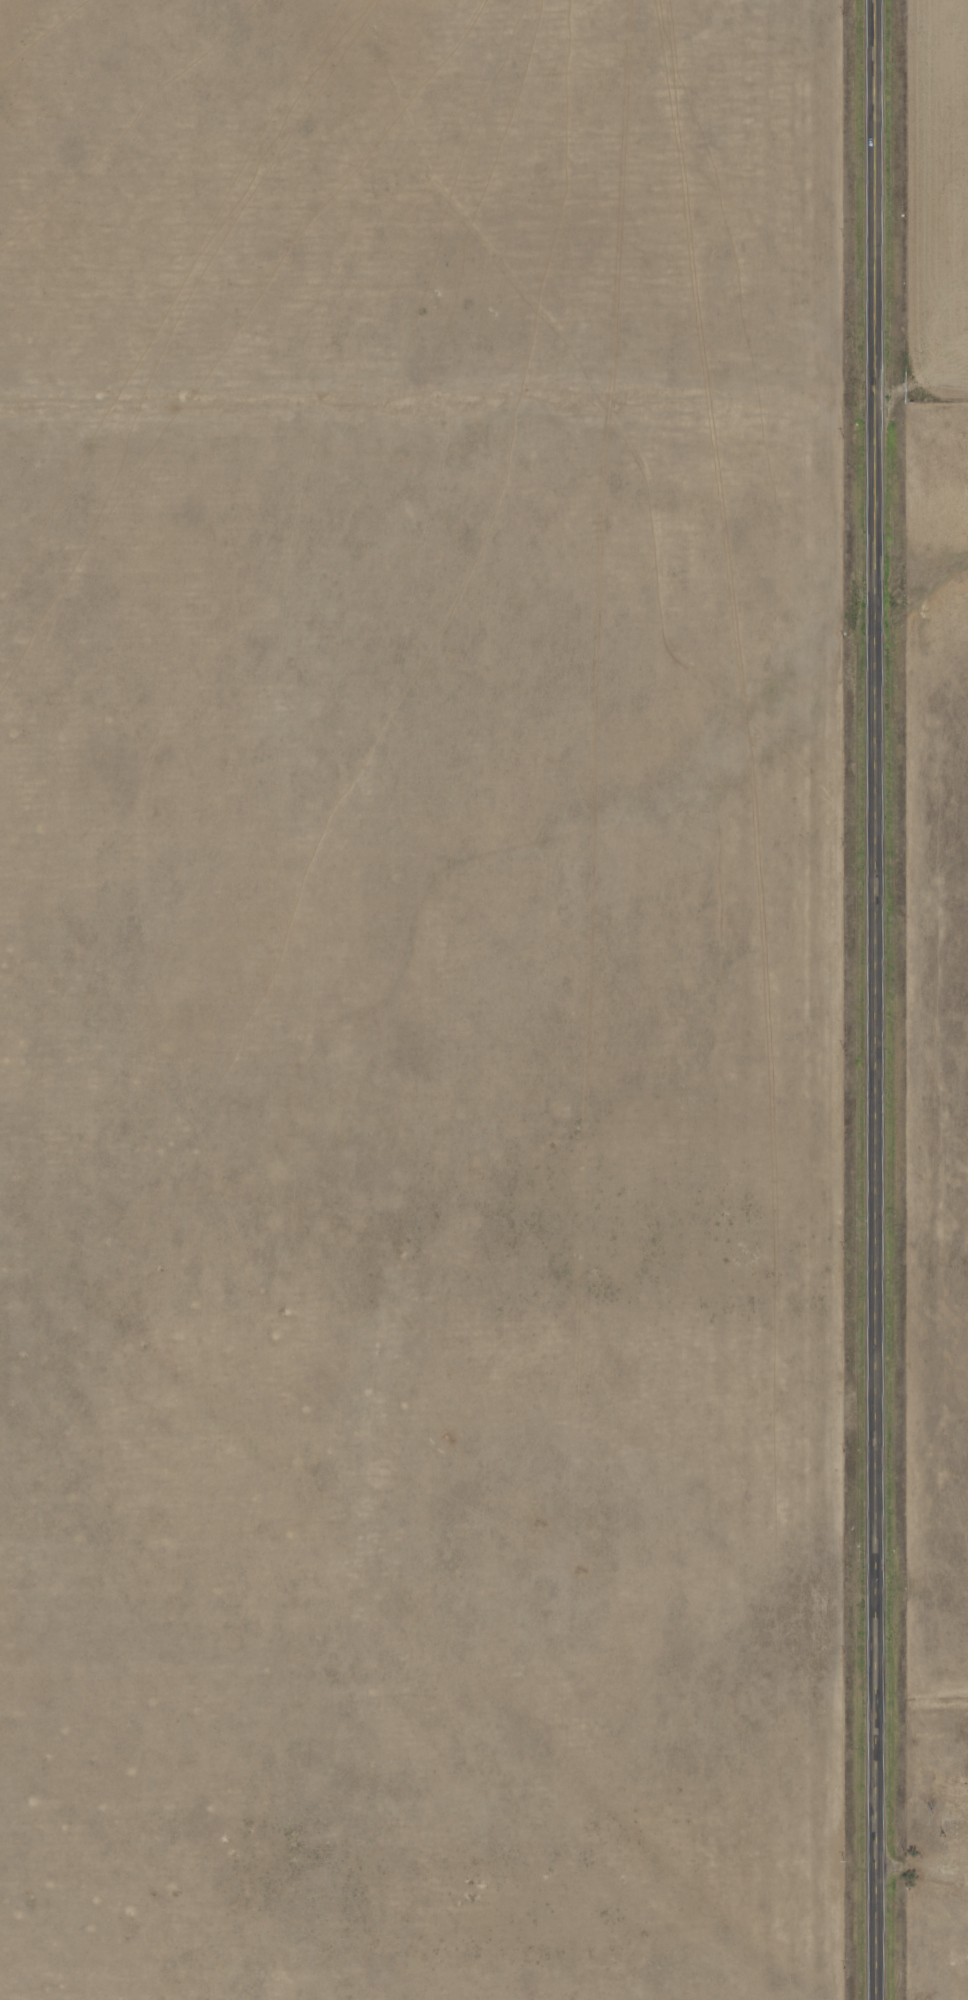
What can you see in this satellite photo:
road: (881, 1000)

